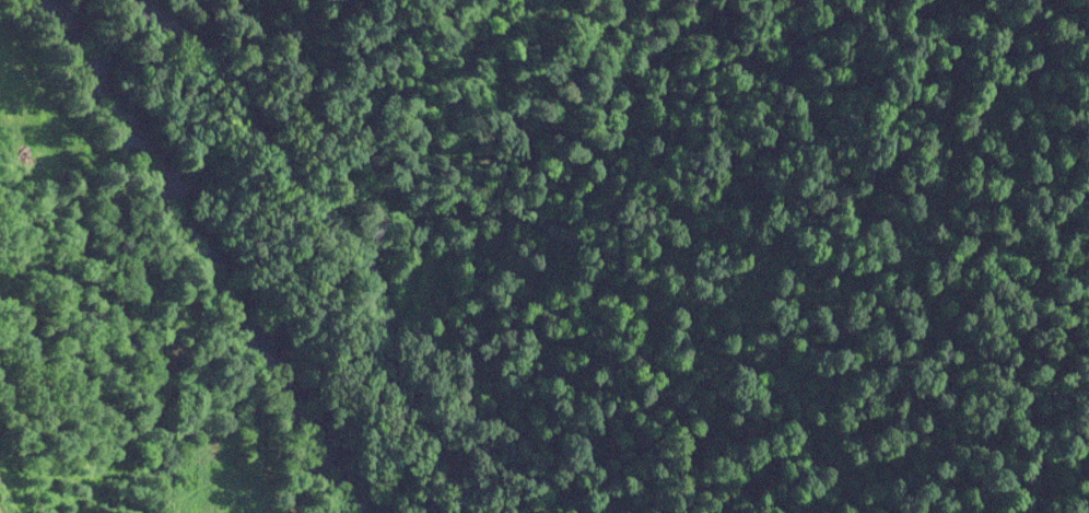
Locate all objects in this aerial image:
road: (329, 252)

